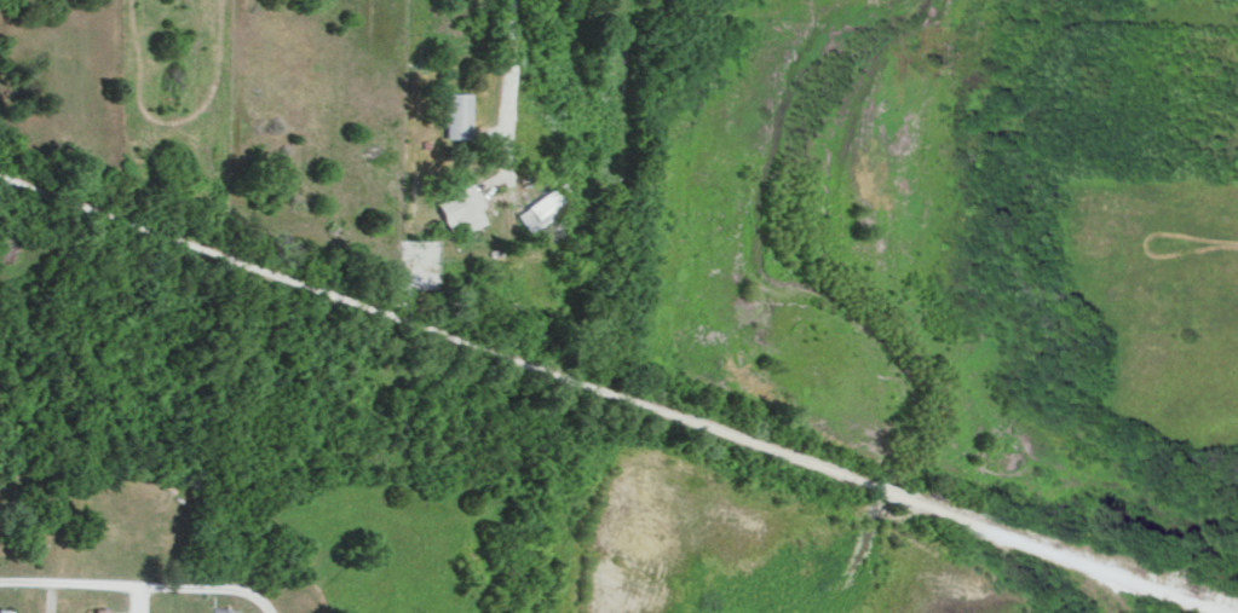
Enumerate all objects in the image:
building: (460, 114)
road: (505, 126)
building: (463, 207)
building: (543, 209)
road: (614, 395)
road: (134, 589)
building: (225, 609)
building: (97, 611)

